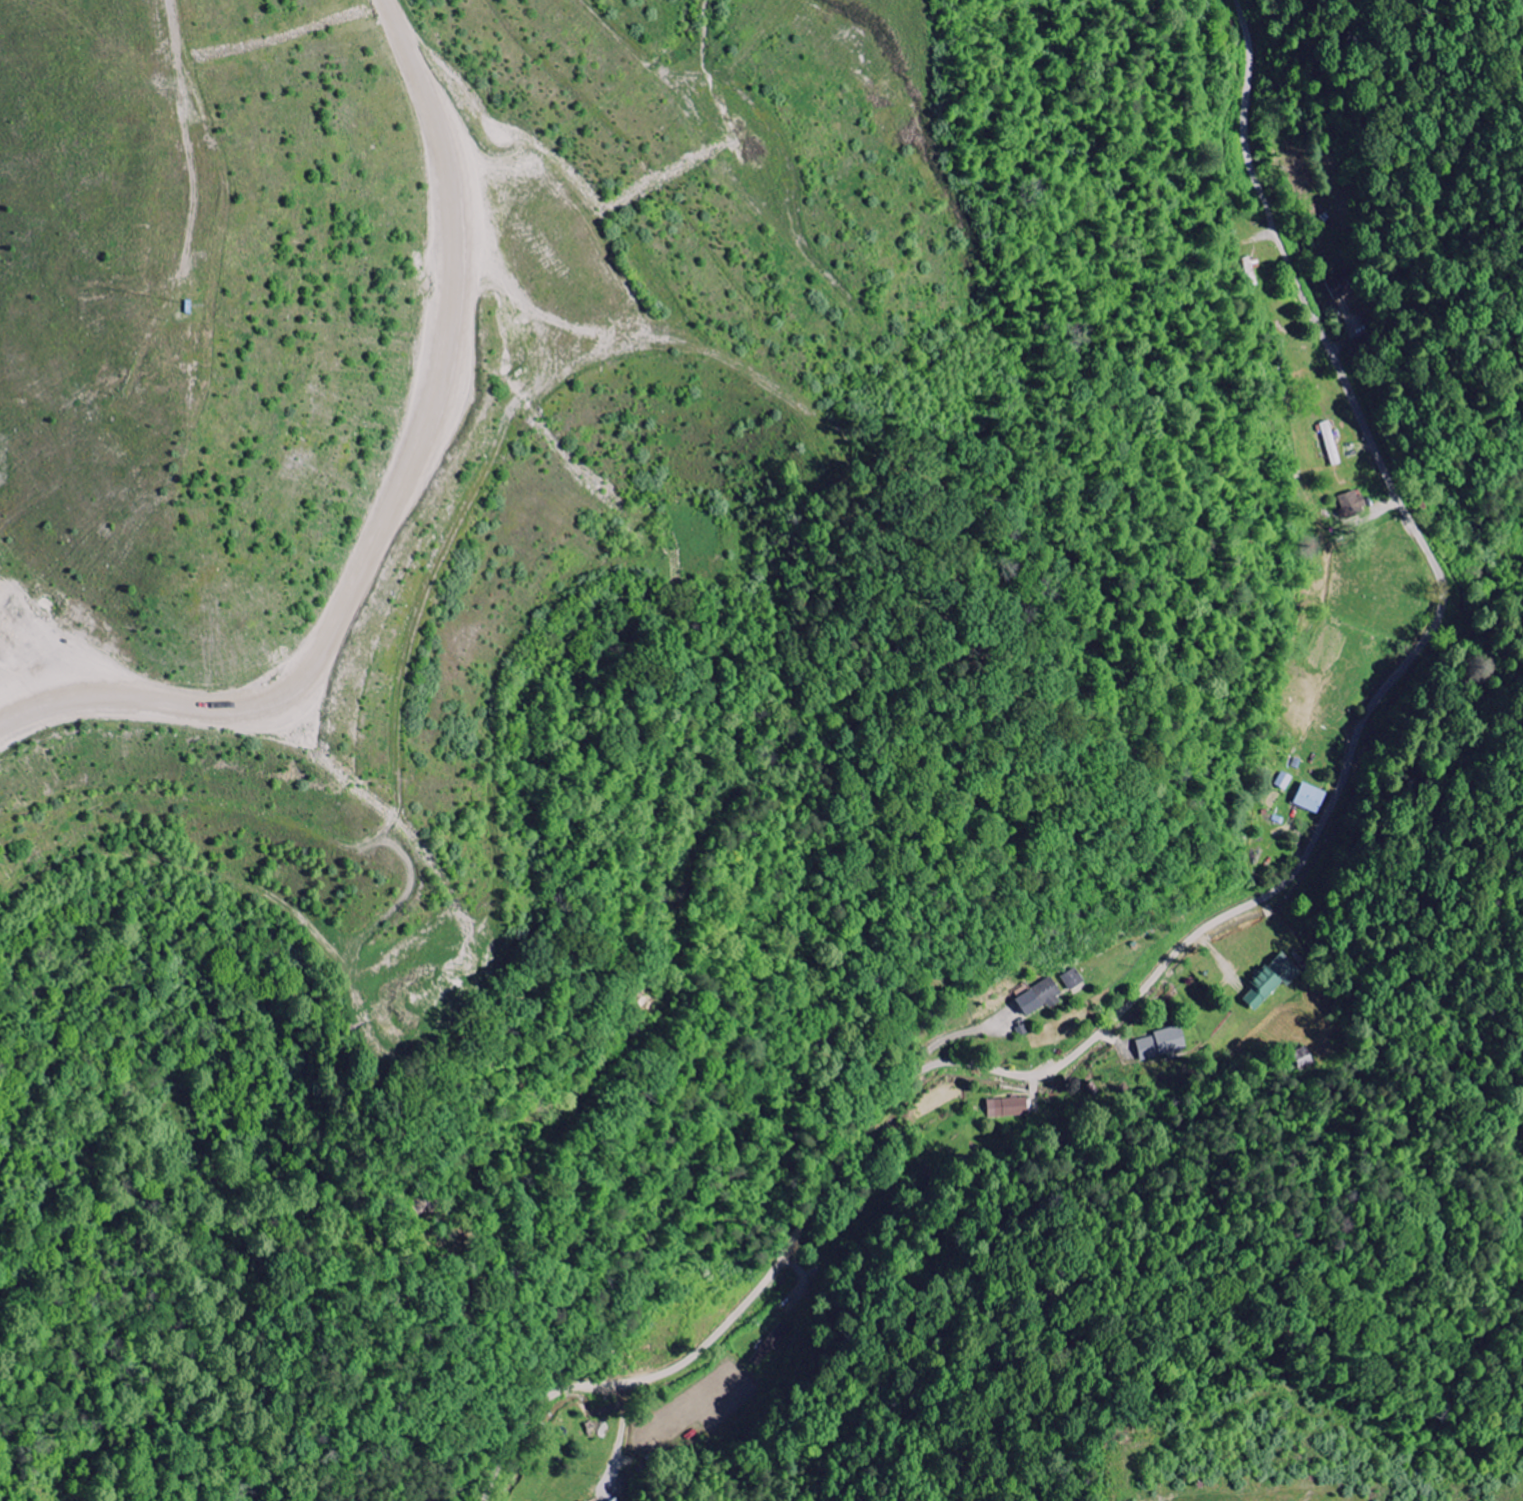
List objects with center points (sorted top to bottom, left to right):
building: (1340, 287)
quarry: (669, 492)
building: (1355, 506)
building: (1287, 780)
building: (1313, 798)
road: (1241, 911)
building: (1075, 979)
building: (1274, 981)
building: (1042, 996)
building: (1164, 1044)
building: (1002, 1109)
quarry: (1392, 1329)
building: (618, 1500)

